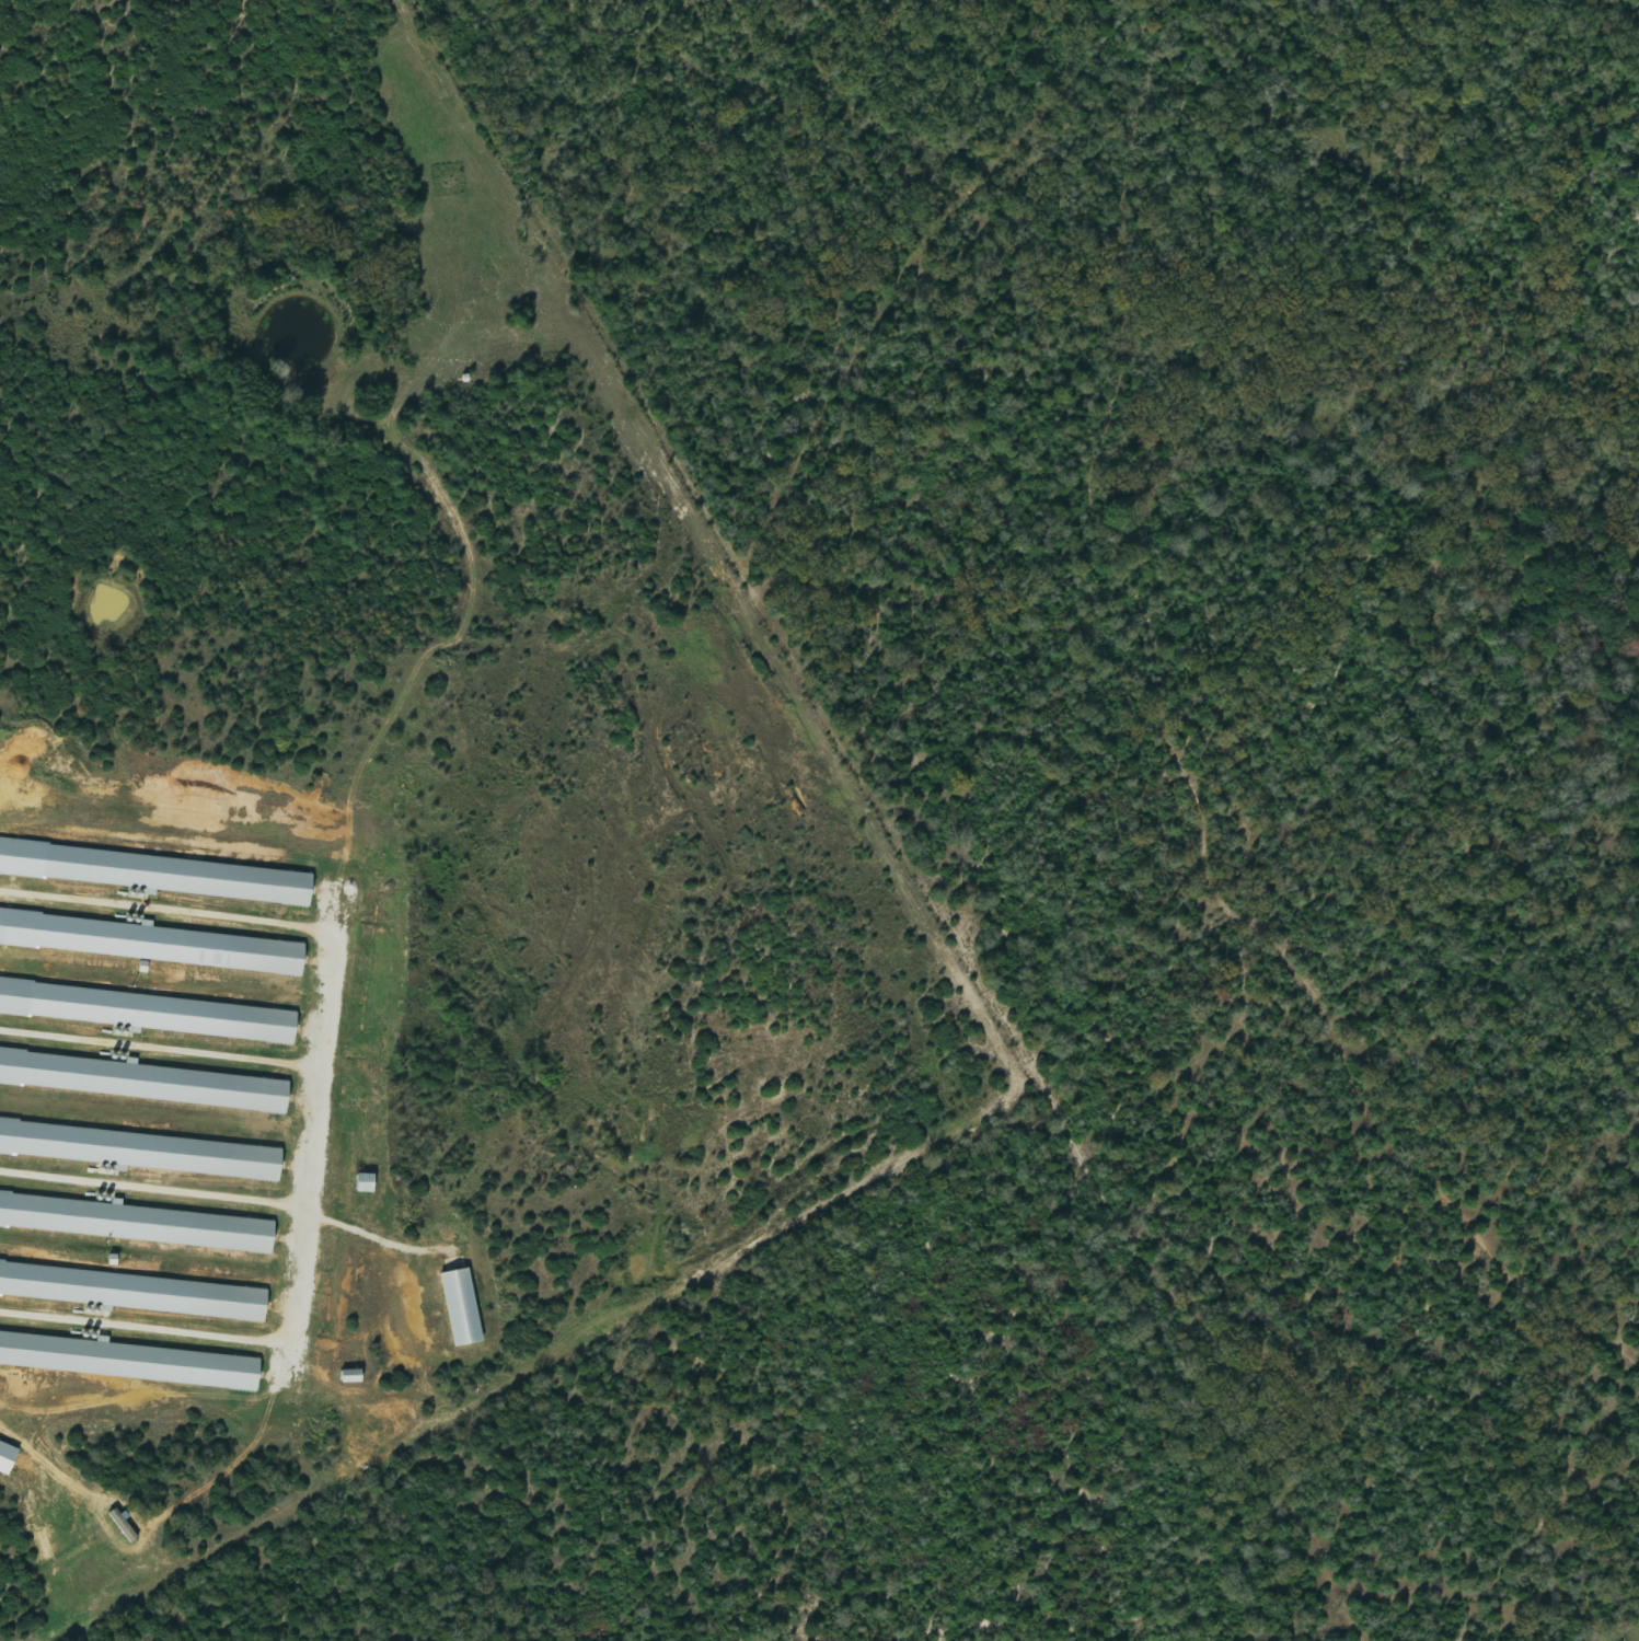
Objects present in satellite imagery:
building: (159, 874)
building: (148, 943)
building: (150, 1012)
building: (141, 1082)
building: (143, 1151)
building: (371, 1183)
building: (135, 1223)
building: (136, 1292)
building: (466, 1308)
building: (128, 1361)
building: (356, 1377)
building: (10, 1458)
building: (127, 1526)

